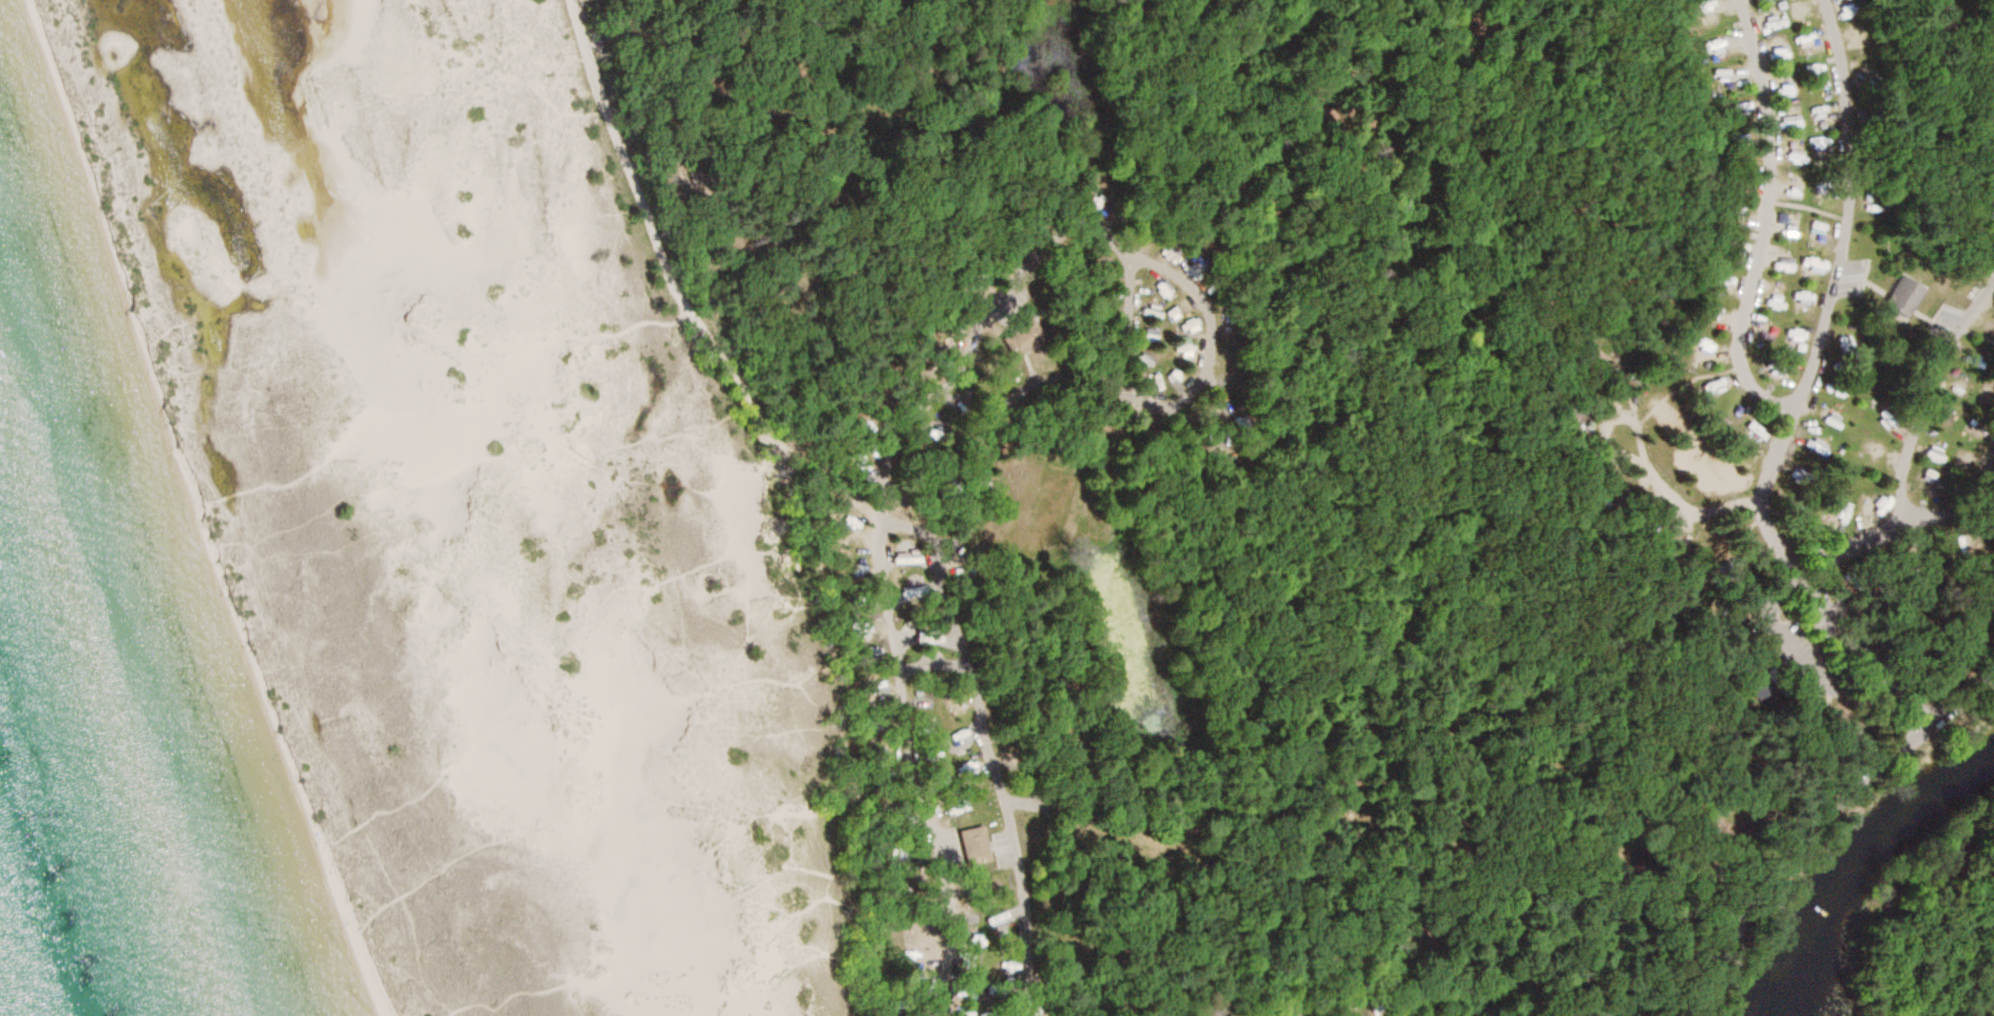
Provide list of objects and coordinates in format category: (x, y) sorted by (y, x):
building: (1812, 40)
road: (1050, 118)
building: (1795, 157)
building: (1795, 195)
building: (1819, 224)
building: (1793, 232)
road: (687, 287)
road: (1199, 293)
building: (1907, 299)
road: (1131, 320)
building: (1185, 325)
road: (1361, 326)
building: (1025, 339)
building: (1710, 349)
road: (1289, 392)
road: (1194, 393)
road: (1791, 407)
road: (1910, 455)
road: (1656, 462)
road: (1769, 488)
park: (1051, 494)
road: (922, 528)
building: (912, 593)
road: (1782, 596)
road: (1827, 607)
road: (1978, 646)
building: (958, 738)
road: (1794, 789)
road: (1821, 826)
building: (976, 844)
river: (1862, 874)

